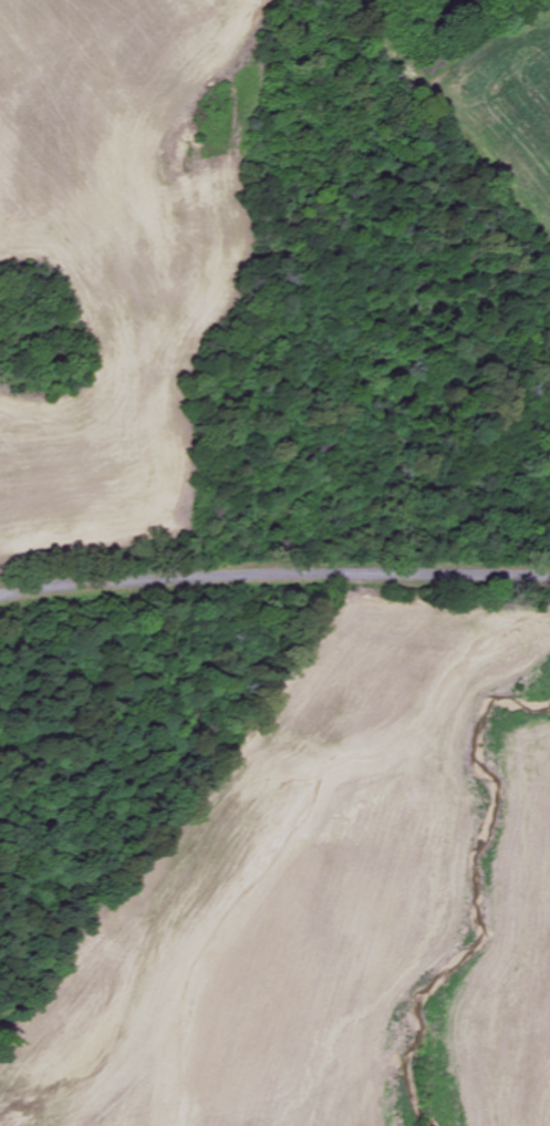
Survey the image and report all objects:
road: (273, 574)

